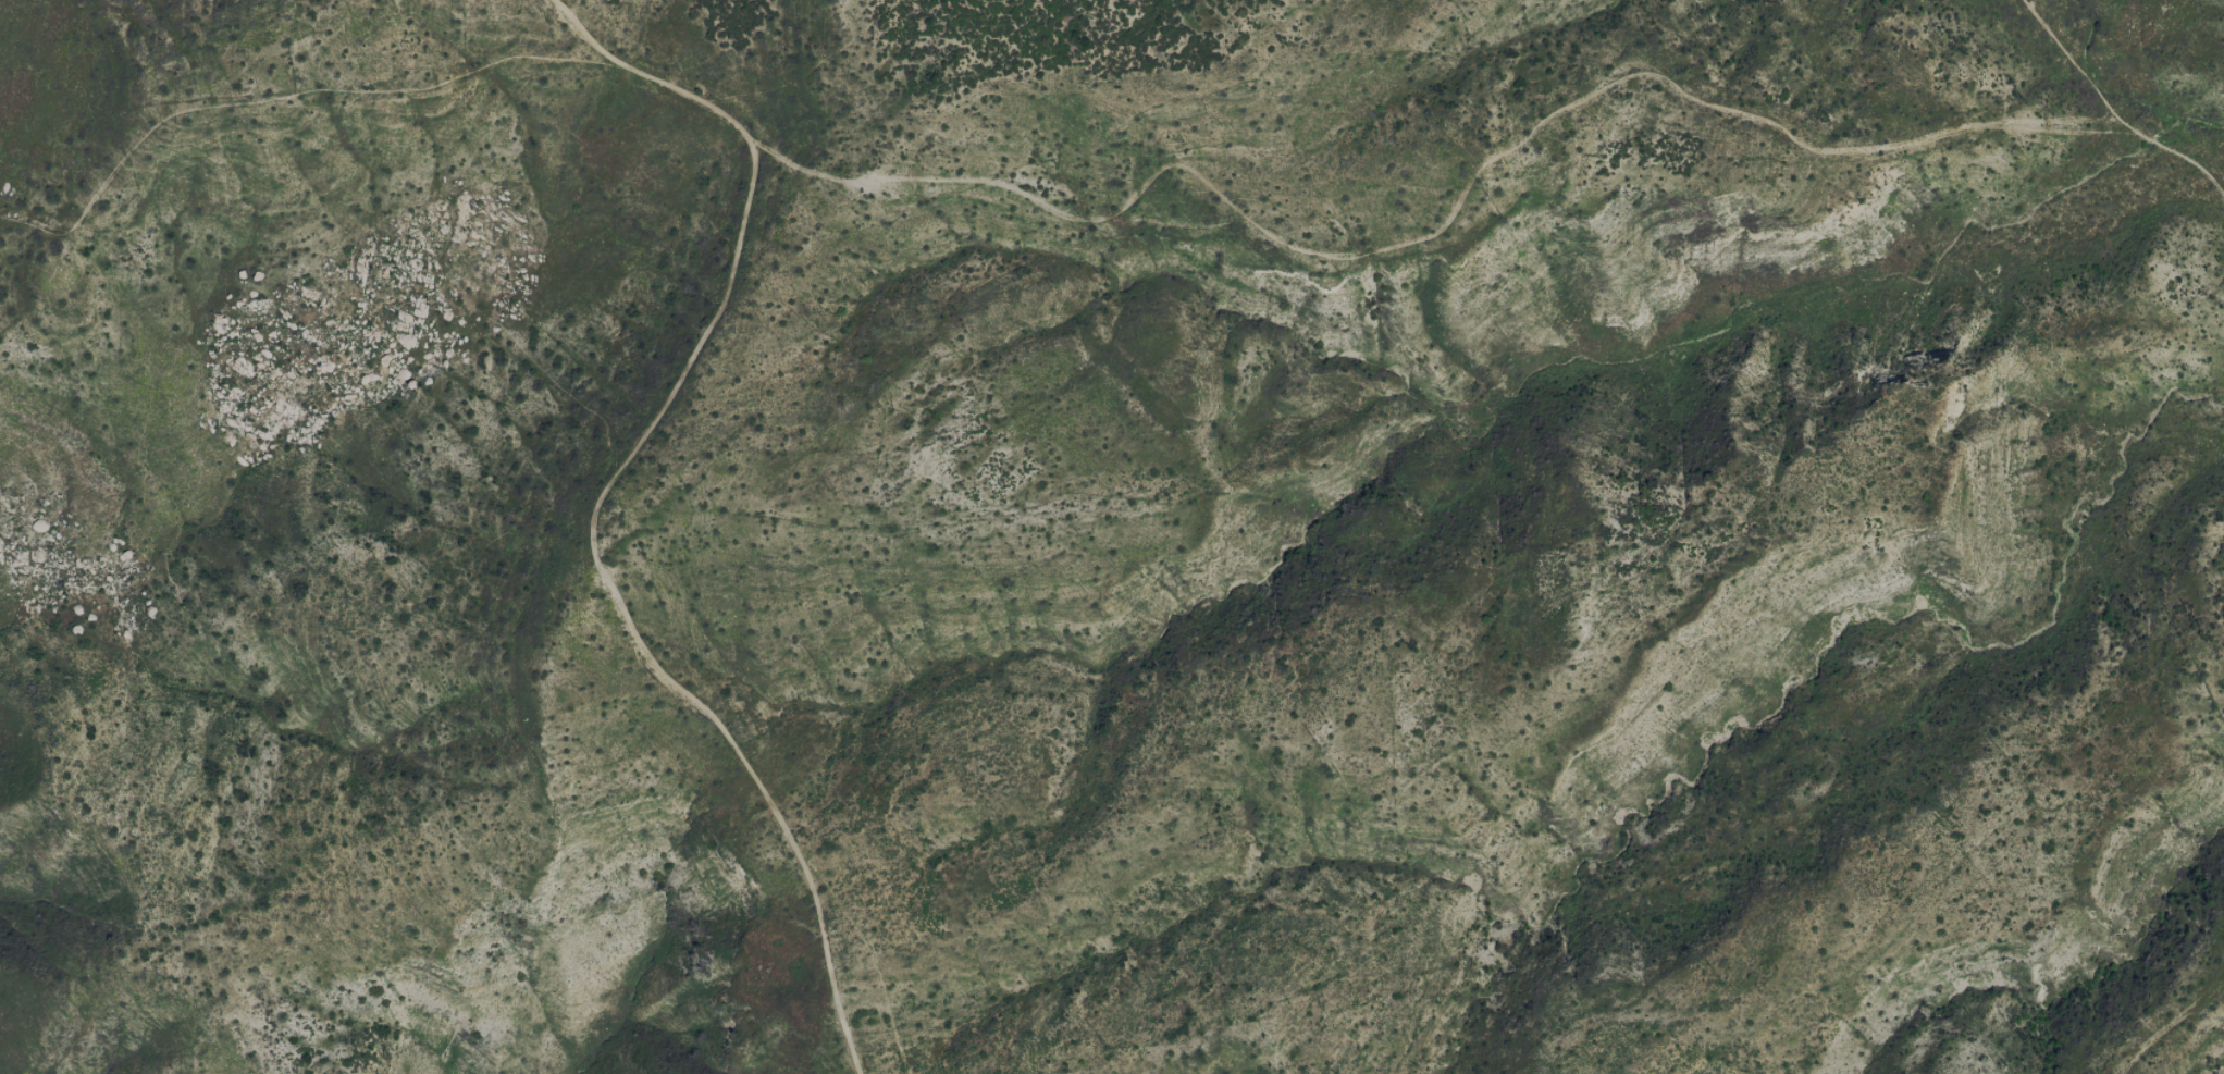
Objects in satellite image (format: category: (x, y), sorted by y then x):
road: (570, 511)

